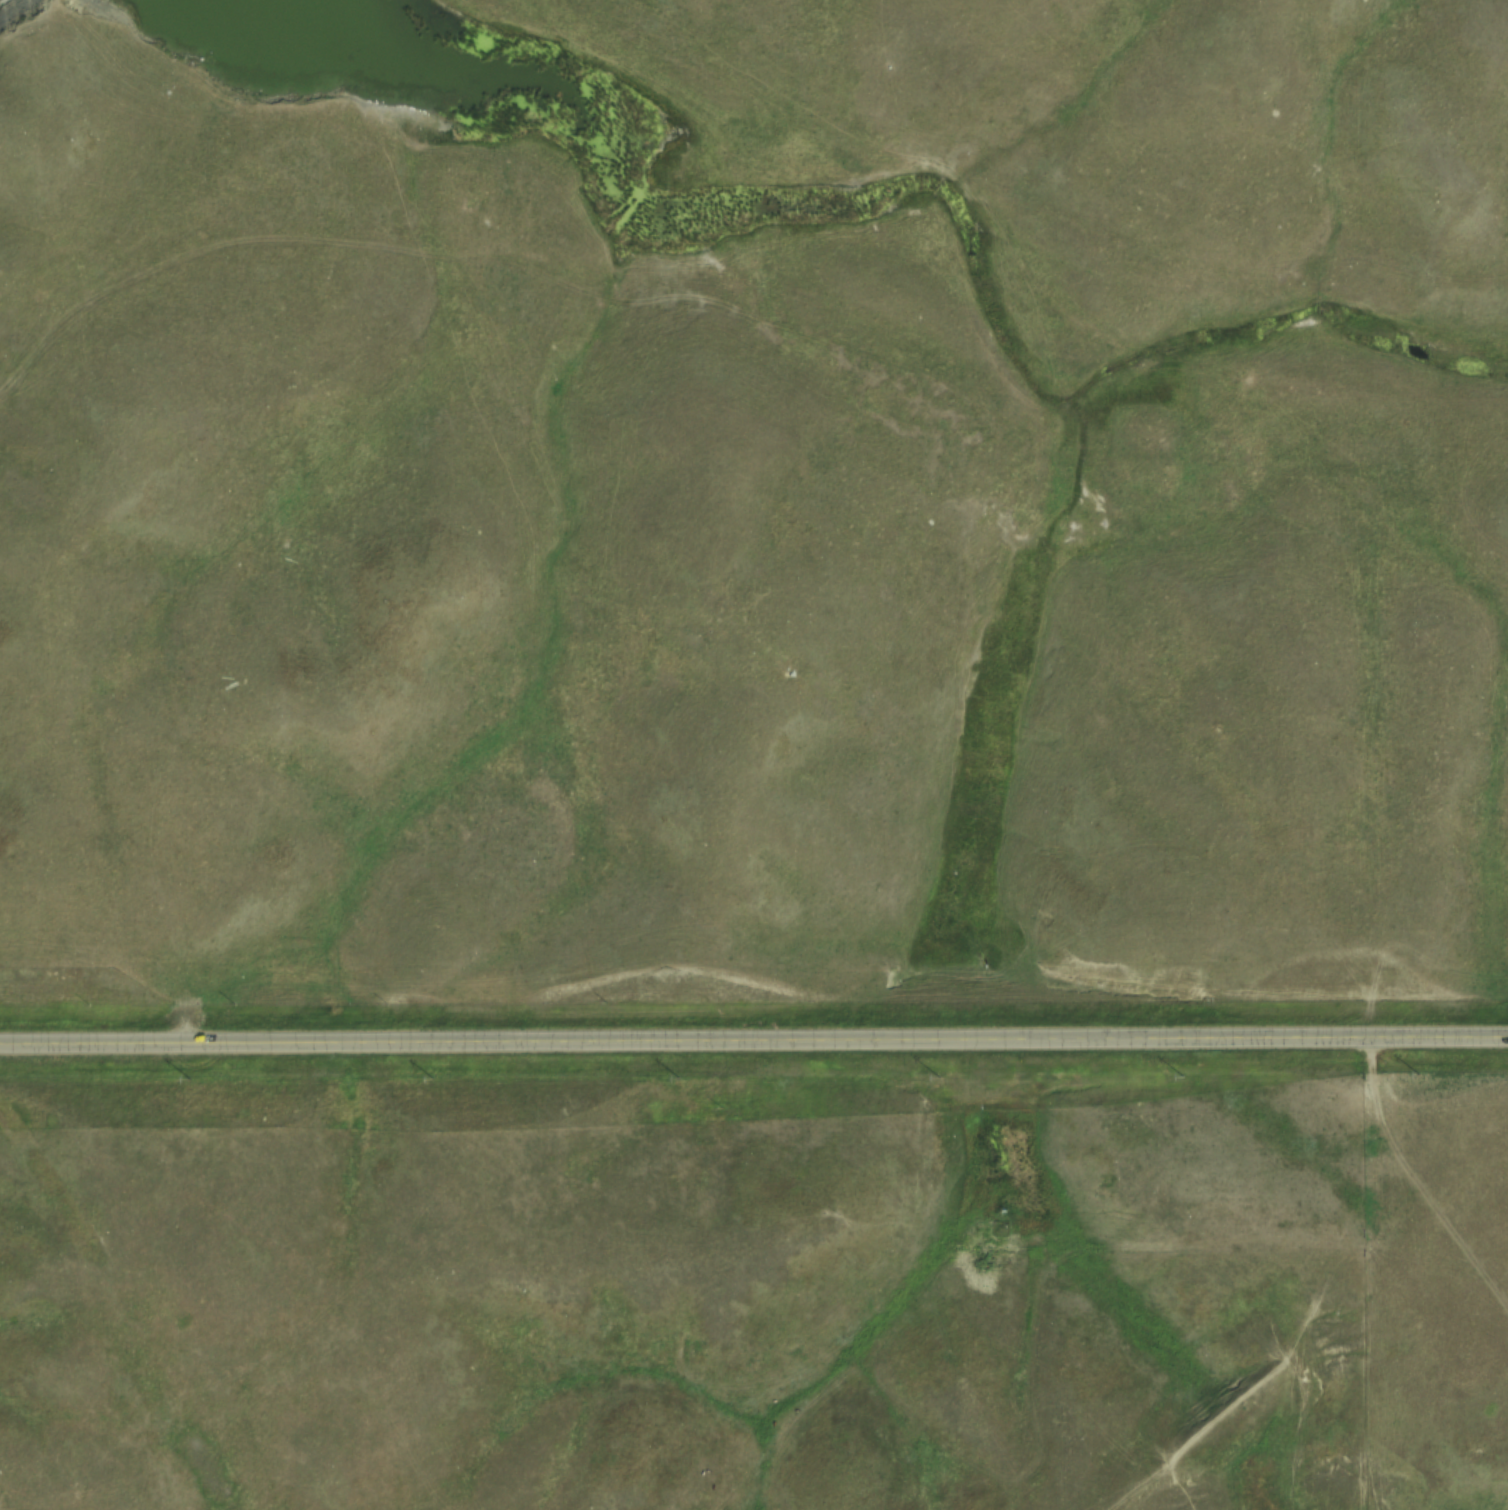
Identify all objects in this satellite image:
road: (754, 1036)

